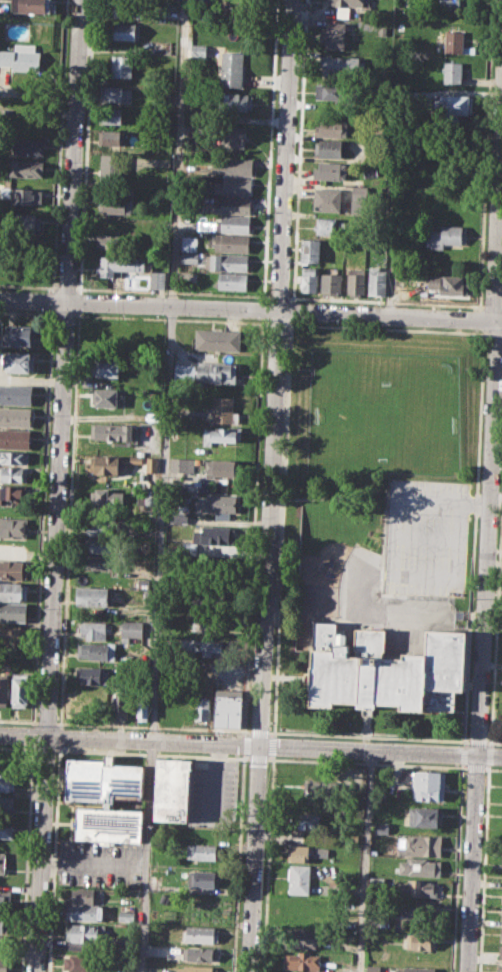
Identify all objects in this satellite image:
building: (451, 3)
building: (30, 6)
building: (344, 6)
building: (129, 9)
building: (127, 30)
building: (383, 31)
building: (332, 34)
building: (454, 41)
building: (199, 48)
building: (21, 57)
building: (123, 65)
building: (343, 65)
building: (233, 69)
building: (452, 72)
building: (332, 92)
building: (116, 94)
building: (236, 101)
building: (452, 104)
building: (110, 115)
building: (331, 126)
building: (198, 129)
building: (228, 136)
building: (110, 138)
road: (60, 145)
building: (30, 146)
road: (86, 146)
building: (331, 148)
road: (269, 149)
road: (298, 150)
building: (233, 165)
building: (27, 167)
building: (111, 168)
building: (330, 170)
building: (230, 183)
building: (26, 195)
building: (328, 199)
building: (115, 204)
building: (235, 204)
road: (497, 213)
building: (24, 223)
building: (234, 223)
building: (328, 225)
building: (448, 236)
building: (111, 241)
building: (189, 241)
building: (233, 243)
building: (310, 248)
building: (190, 257)
building: (228, 262)
building: (121, 263)
building: (308, 278)
building: (158, 279)
building: (377, 280)
building: (235, 281)
building: (356, 281)
building: (331, 282)
building: (448, 283)
road: (28, 285)
road: (66, 287)
road: (172, 291)
road: (279, 296)
road: (53, 300)
road: (386, 300)
road: (79, 301)
road: (493, 305)
road: (250, 308)
road: (263, 308)
road: (291, 310)
road: (28, 311)
road: (64, 313)
road: (170, 317)
road: (276, 322)
road: (386, 328)
road: (494, 333)
building: (21, 334)
building: (218, 340)
building: (19, 362)
building: (105, 367)
building: (183, 371)
building: (217, 372)
building: (16, 394)
building: (105, 397)
building: (224, 412)
building: (15, 417)
building: (111, 431)
building: (222, 434)
building: (15, 439)
building: (14, 457)
building: (136, 459)
building: (106, 464)
building: (152, 464)
building: (182, 464)
building: (222, 468)
building: (15, 474)
road: (163, 485)
road: (57, 486)
road: (270, 486)
building: (13, 492)
building: (108, 496)
building: (150, 497)
building: (178, 502)
building: (219, 505)
road: (43, 517)
building: (179, 517)
road: (69, 518)
road: (253, 526)
building: (13, 527)
building: (101, 528)
road: (281, 528)
building: (214, 535)
road: (487, 536)
parking lot: (425, 537)
building: (100, 544)
building: (190, 547)
road: (397, 557)
building: (102, 562)
building: (13, 569)
building: (143, 584)
building: (12, 591)
building: (92, 596)
building: (209, 605)
building: (14, 612)
building: (207, 627)
building: (93, 629)
building: (131, 630)
building: (14, 637)
building: (205, 648)
building: (96, 650)
building: (386, 670)
building: (90, 675)
building: (4, 689)
building: (20, 690)
building: (77, 704)
building: (120, 706)
building: (183, 707)
building: (142, 709)
building: (203, 709)
building: (228, 709)
road: (18, 720)
road: (46, 721)
road: (152, 726)
road: (259, 731)
road: (33, 734)
road: (59, 736)
road: (369, 736)
road: (478, 741)
road: (494, 742)
road: (243, 744)
road: (250, 744)
road: (272, 745)
road: (216, 781)
building: (7, 784)
building: (428, 785)
building: (173, 790)
parking lot: (214, 792)
building: (324, 793)
building: (106, 797)
building: (6, 804)
building: (425, 816)
building: (306, 819)
building: (382, 827)
building: (6, 828)
building: (419, 845)
building: (204, 852)
building: (300, 852)
road: (27, 858)
road: (53, 858)
road: (363, 860)
building: (3, 862)
road: (237, 862)
parking lot: (100, 863)
road: (267, 863)
road: (471, 863)
road: (92, 864)
building: (419, 866)
building: (299, 877)
building: (204, 878)
building: (377, 882)
building: (417, 887)
building: (83, 895)
building: (501, 896)
building: (5, 899)
building: (423, 909)
building: (84, 912)
building: (501, 917)
building: (4, 924)
building: (85, 933)
building: (501, 933)
building: (202, 934)
building: (304, 937)
building: (423, 940)
building: (4, 942)
building: (500, 952)
building: (200, 953)
building: (303, 960)
building: (81, 962)
building: (3, 964)
building: (501, 967)
building: (197, 968)
building: (373, 968)
building: (413, 969)

